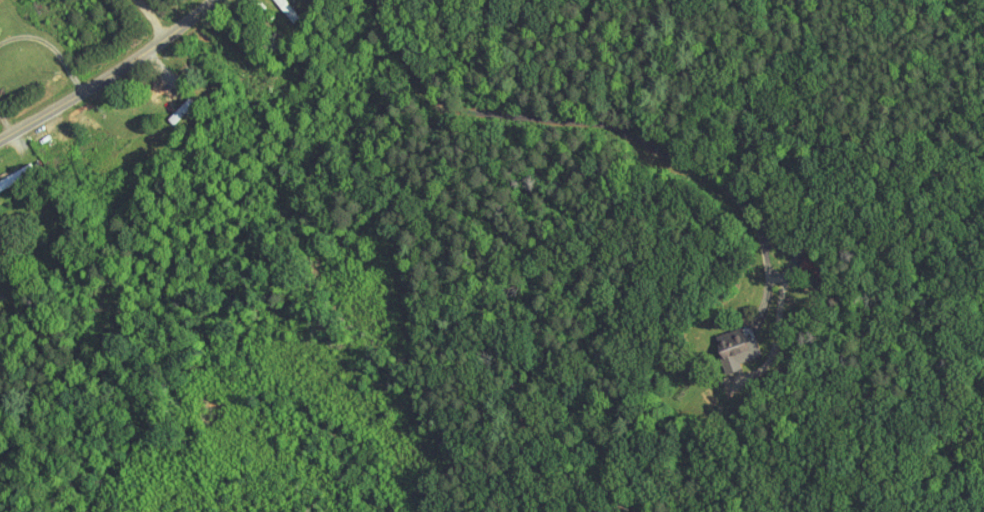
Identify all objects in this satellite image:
building: (280, 6)
road: (101, 68)
road: (622, 126)
building: (731, 338)

